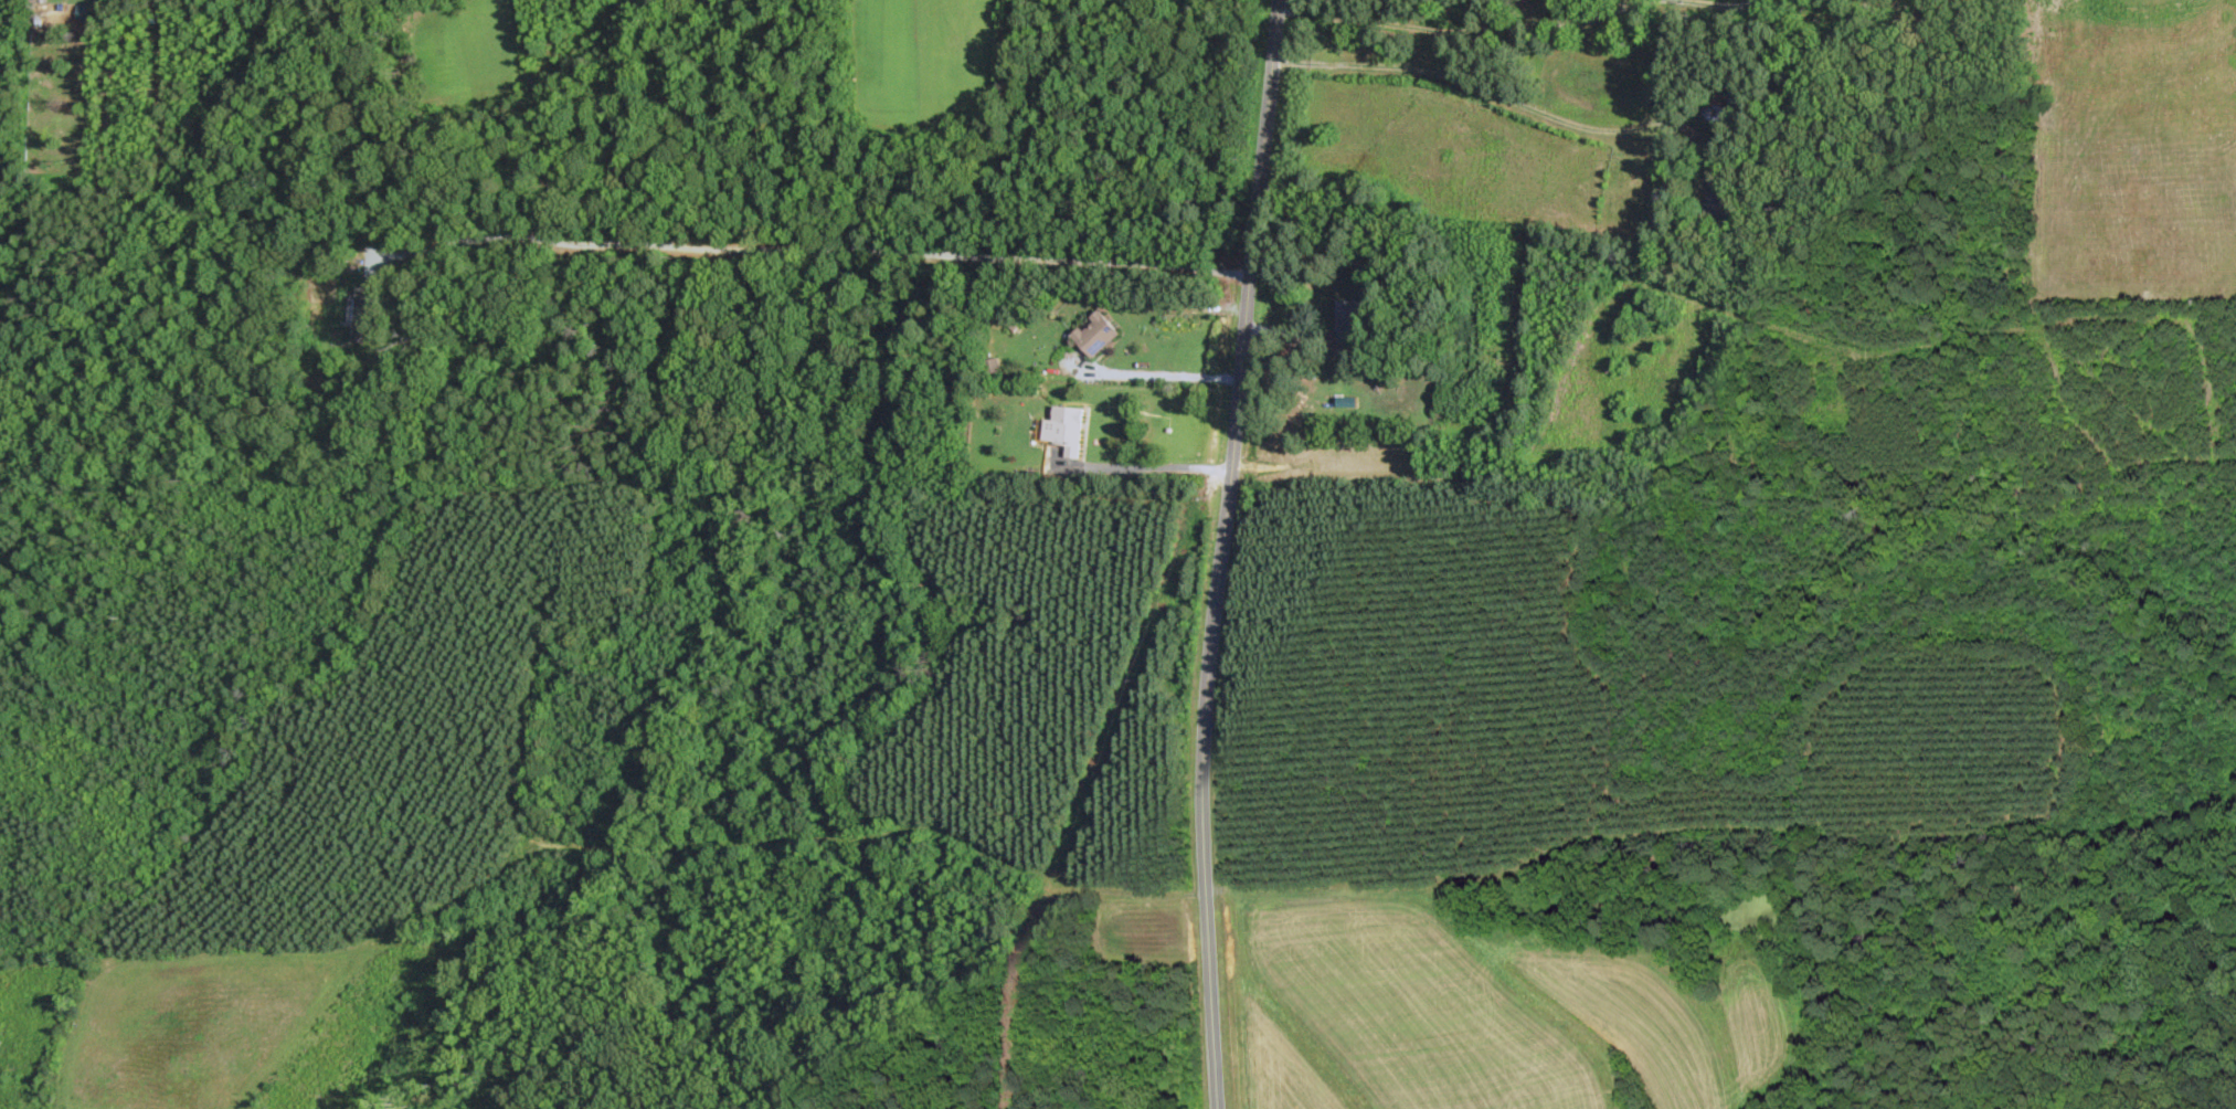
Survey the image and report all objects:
road: (1726, 3)
road: (1458, 30)
road: (1270, 86)
building: (1726, 91)
road: (1495, 92)
building: (1710, 112)
building: (1719, 203)
road: (812, 250)
building: (368, 314)
building: (1348, 321)
building: (1015, 325)
building: (1100, 334)
road: (1151, 374)
building: (1069, 430)
road: (1147, 463)
road: (1211, 641)

